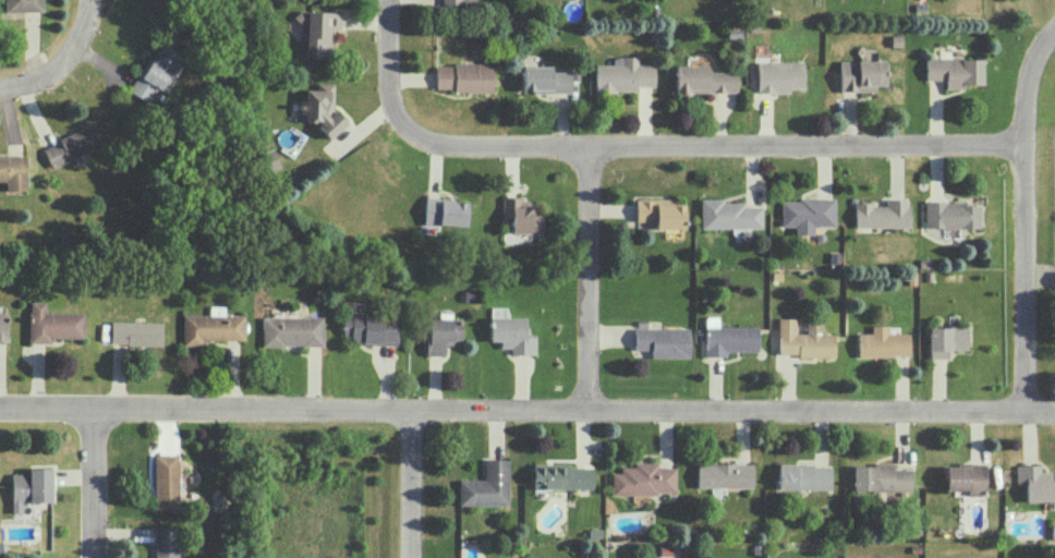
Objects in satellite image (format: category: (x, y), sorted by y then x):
building: (451, 1)
building: (23, 5)
road: (83, 23)
building: (319, 32)
road: (392, 64)
building: (956, 71)
building: (156, 72)
building: (622, 74)
building: (862, 74)
road: (41, 75)
building: (778, 75)
building: (462, 76)
building: (544, 80)
building: (703, 80)
building: (320, 108)
road: (718, 142)
building: (71, 146)
building: (268, 160)
building: (13, 171)
building: (444, 211)
building: (660, 213)
building: (807, 214)
building: (883, 214)
building: (521, 215)
building: (951, 215)
building: (730, 216)
road: (1031, 218)
road: (596, 274)
building: (1054, 279)
building: (52, 324)
building: (3, 326)
building: (211, 326)
building: (369, 328)
building: (291, 330)
building: (135, 332)
building: (441, 333)
building: (512, 335)
building: (728, 338)
building: (803, 339)
building: (945, 340)
building: (663, 341)
building: (882, 342)
road: (527, 403)
building: (724, 474)
building: (562, 476)
building: (803, 476)
building: (881, 477)
building: (965, 477)
building: (644, 478)
building: (166, 482)
road: (420, 482)
road: (99, 483)
building: (1035, 483)
building: (486, 485)
building: (31, 486)
building: (1052, 529)
building: (166, 541)

